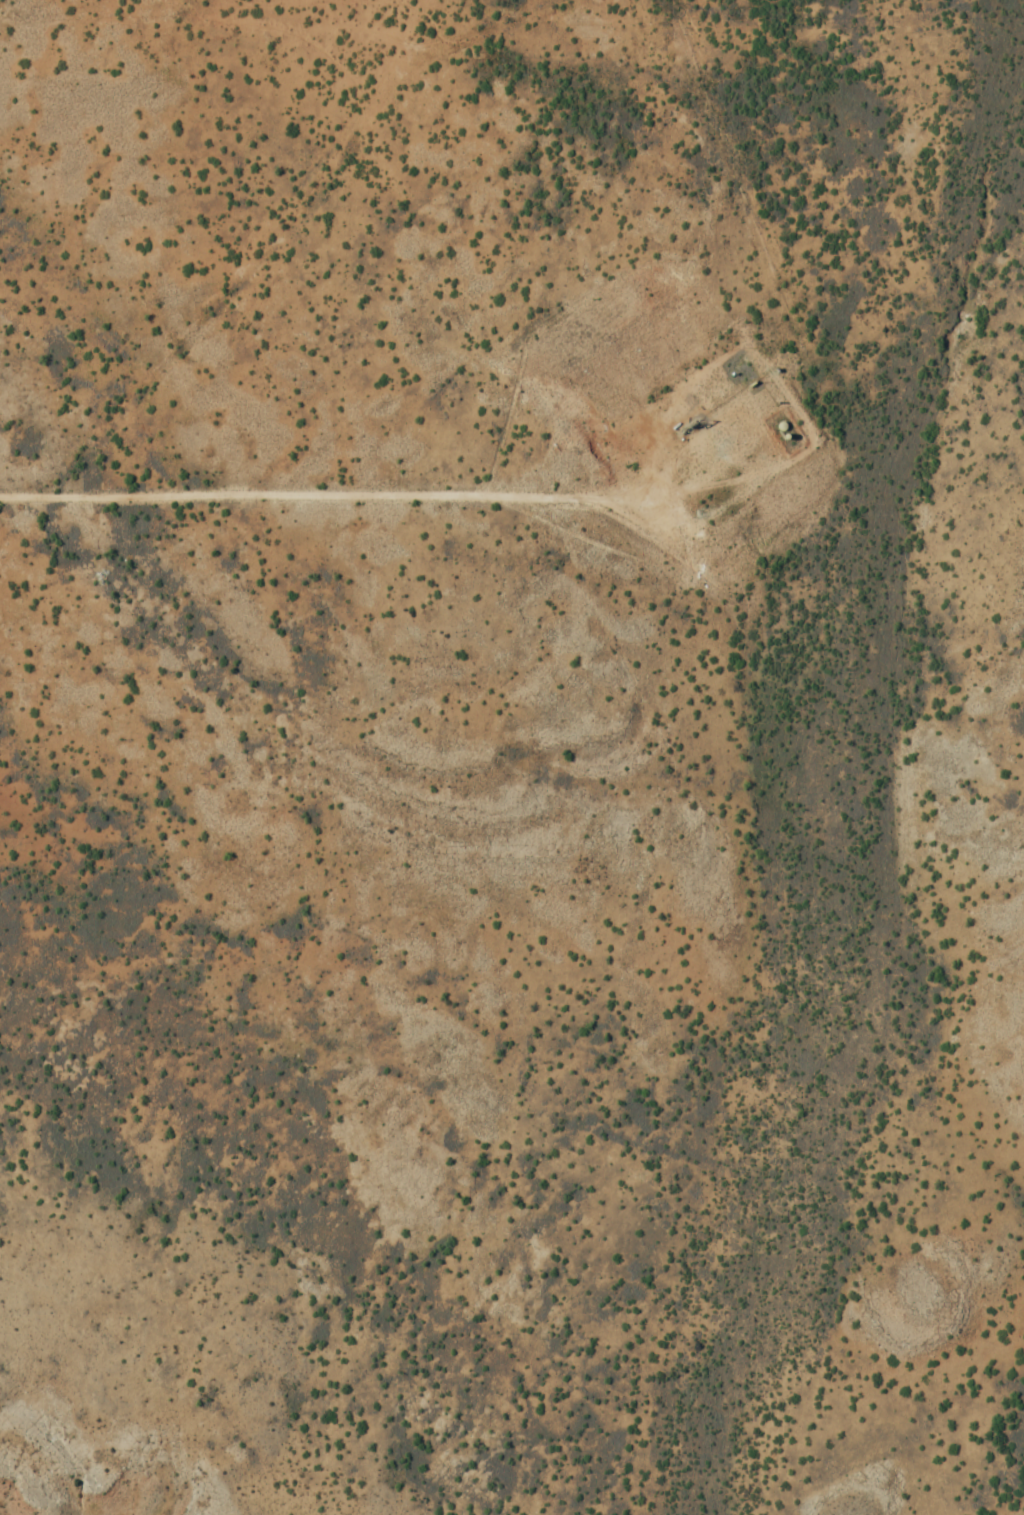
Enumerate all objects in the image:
road: (421, 506)

